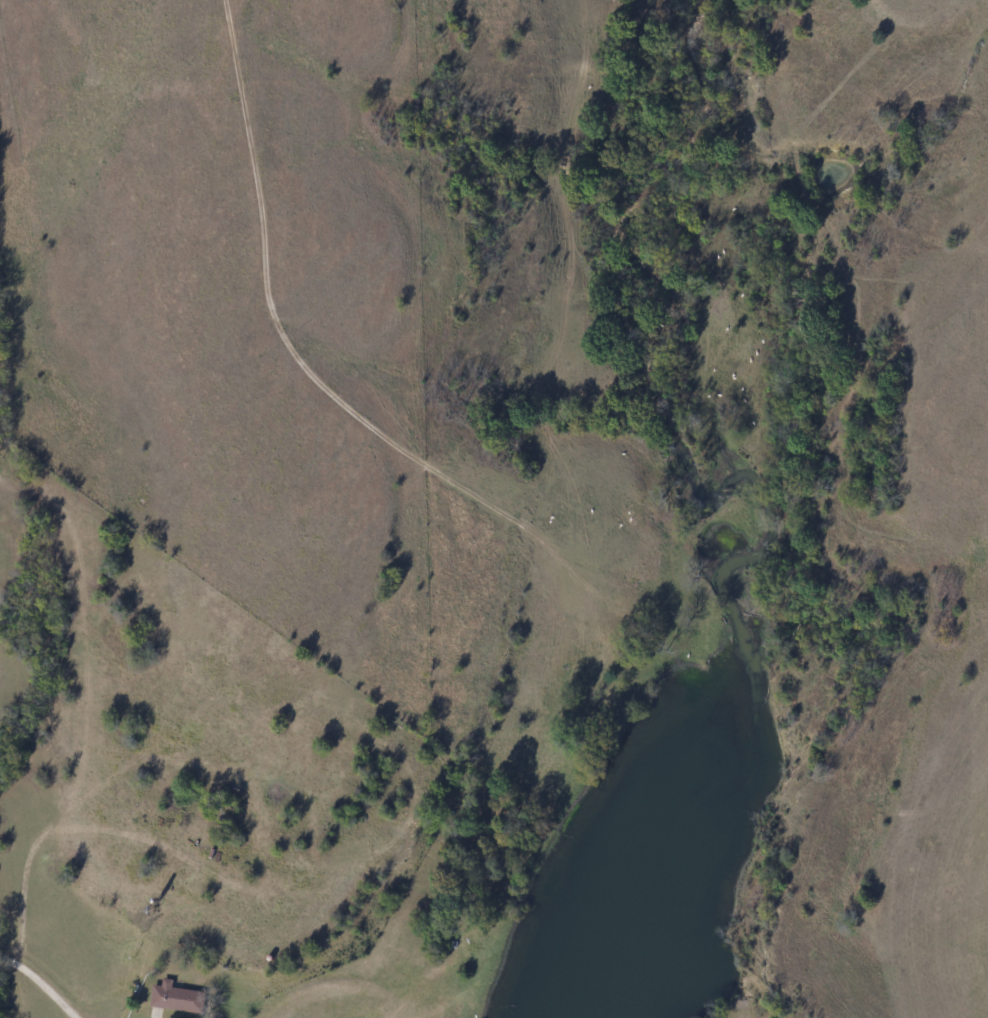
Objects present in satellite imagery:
road: (37, 985)
building: (178, 997)

